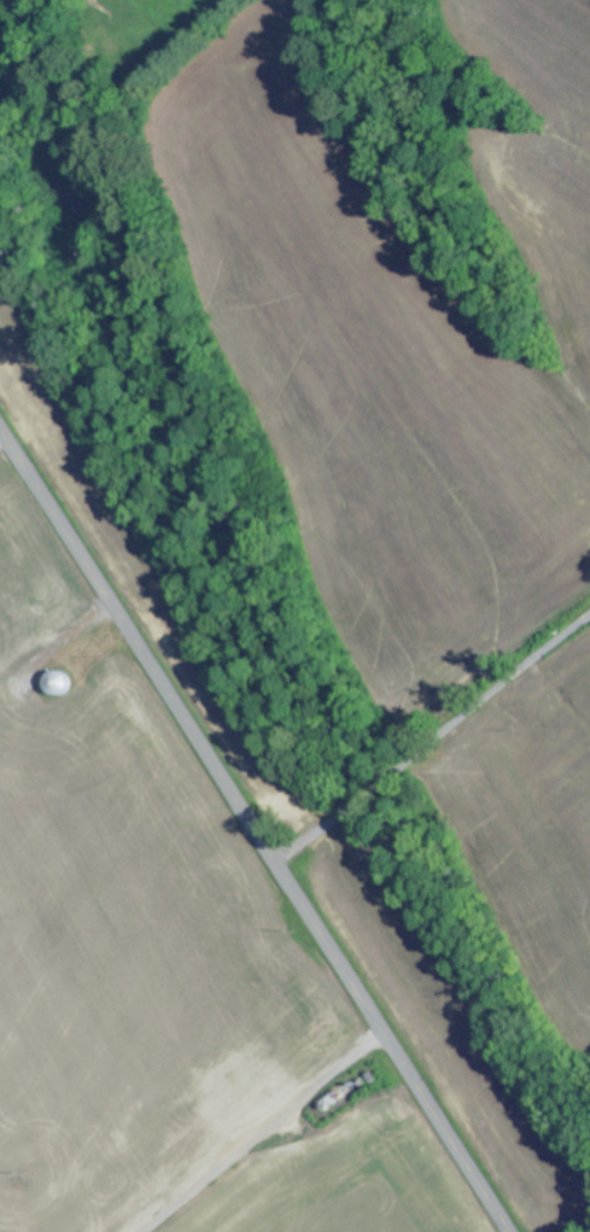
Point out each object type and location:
road: (426, 702)
road: (253, 829)
road: (526, 1109)

